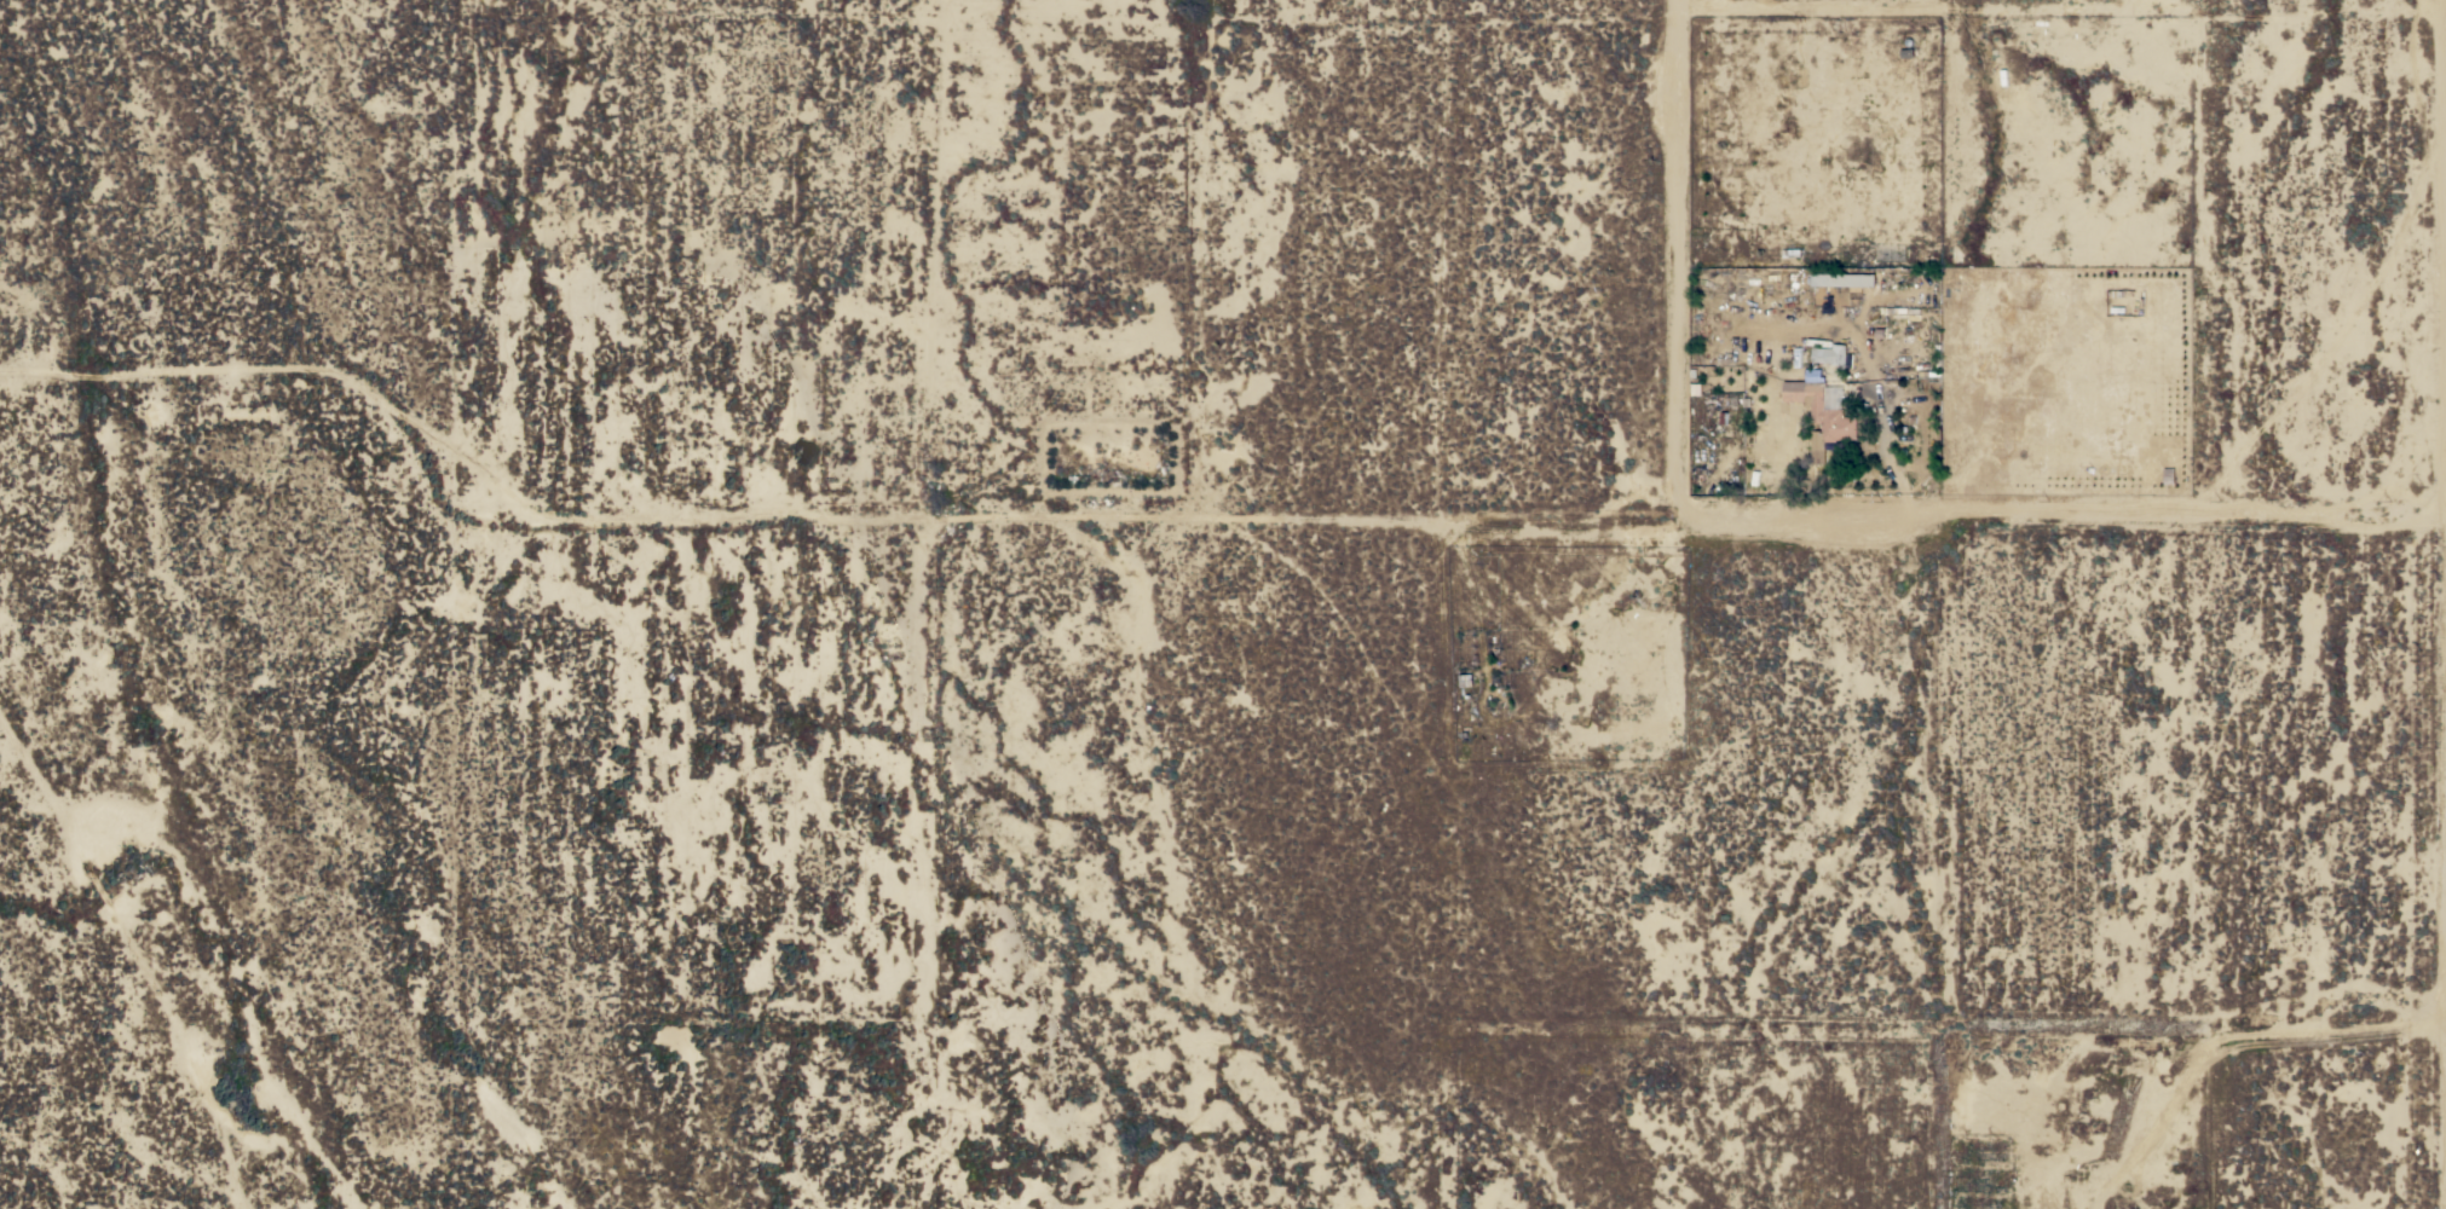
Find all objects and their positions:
building: (1792, 253)
building: (1844, 280)
building: (1815, 354)
building: (1825, 354)
building: (1839, 354)
building: (1821, 416)
road: (1879, 452)
road: (1801, 514)
road: (2436, 604)
road: (2441, 1017)

